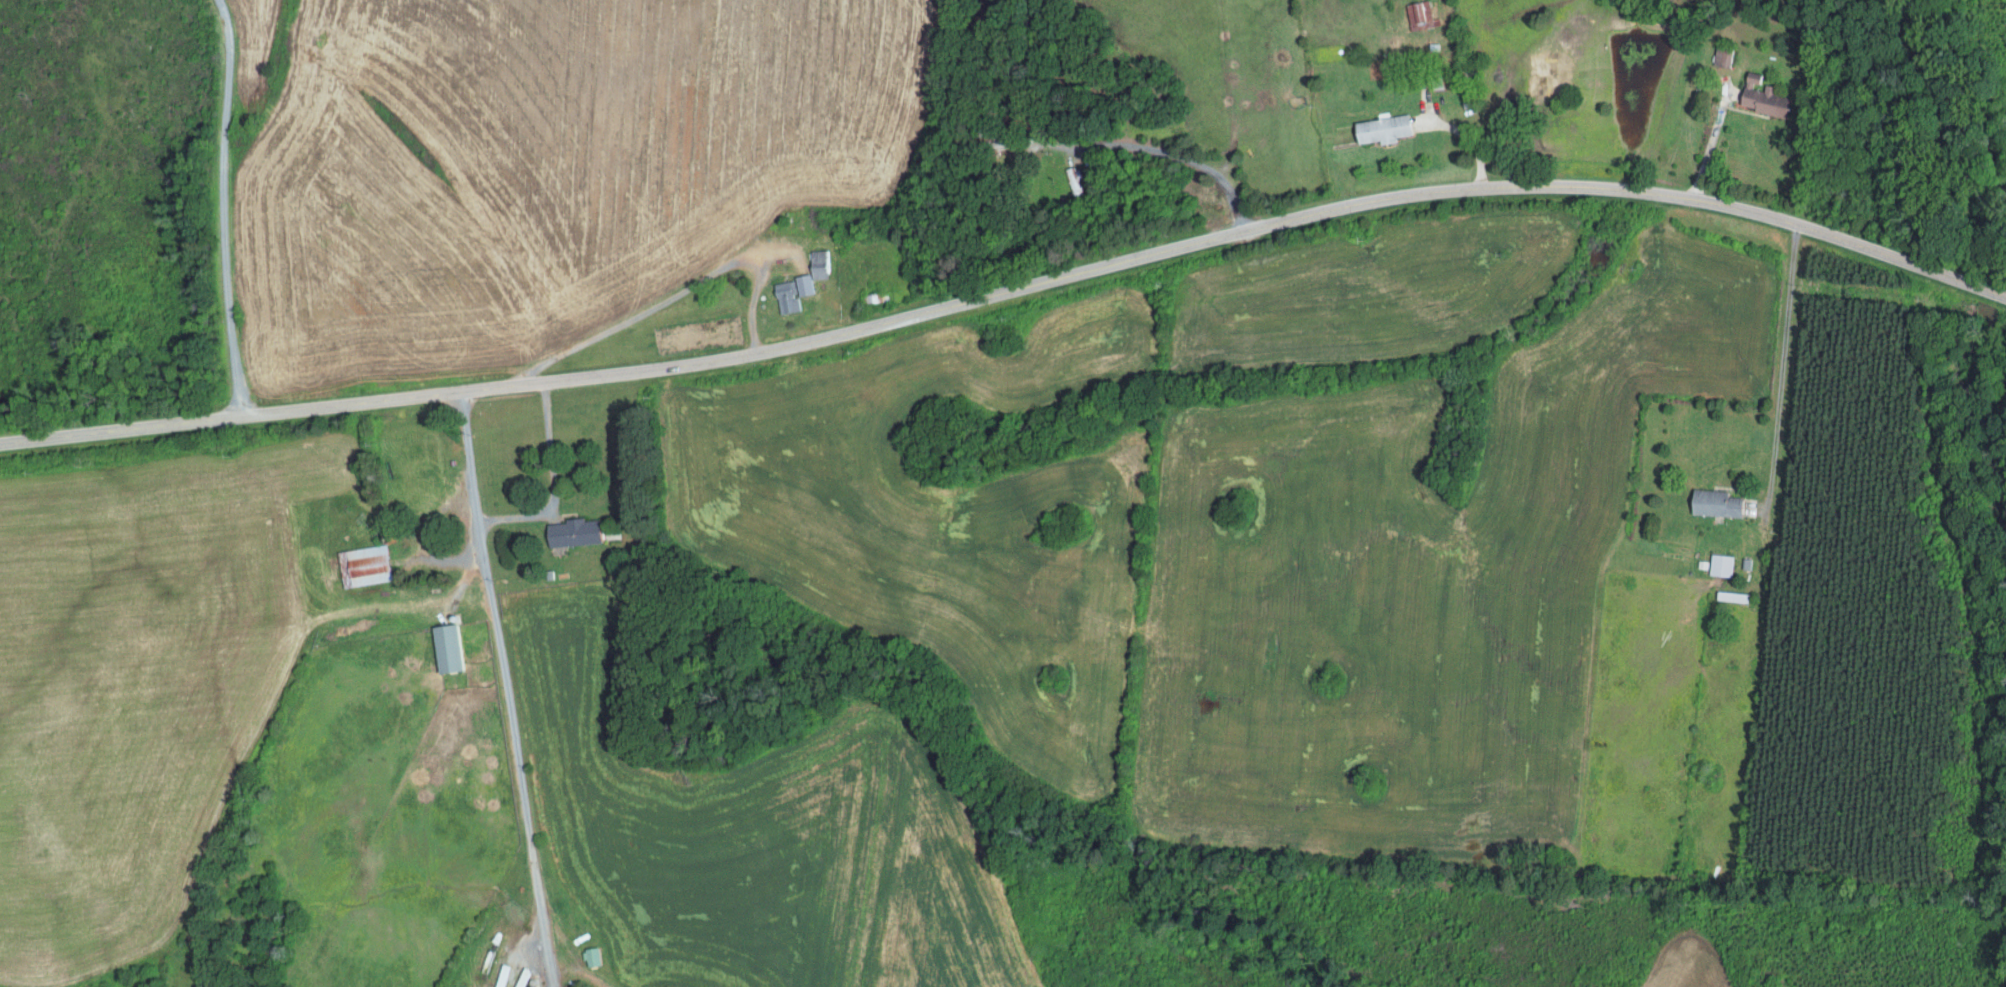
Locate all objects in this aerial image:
building: (1423, 13)
building: (1722, 59)
building: (1763, 95)
road: (1443, 124)
building: (1383, 127)
road: (1709, 143)
road: (1089, 145)
building: (1074, 181)
road: (225, 206)
road: (778, 252)
building: (819, 263)
building: (806, 286)
road: (1010, 289)
road: (674, 295)
building: (786, 296)
road: (1782, 363)
road: (552, 482)
building: (1715, 502)
building: (573, 531)
building: (364, 564)
building: (1721, 564)
building: (447, 647)
road: (506, 687)
building: (591, 956)

